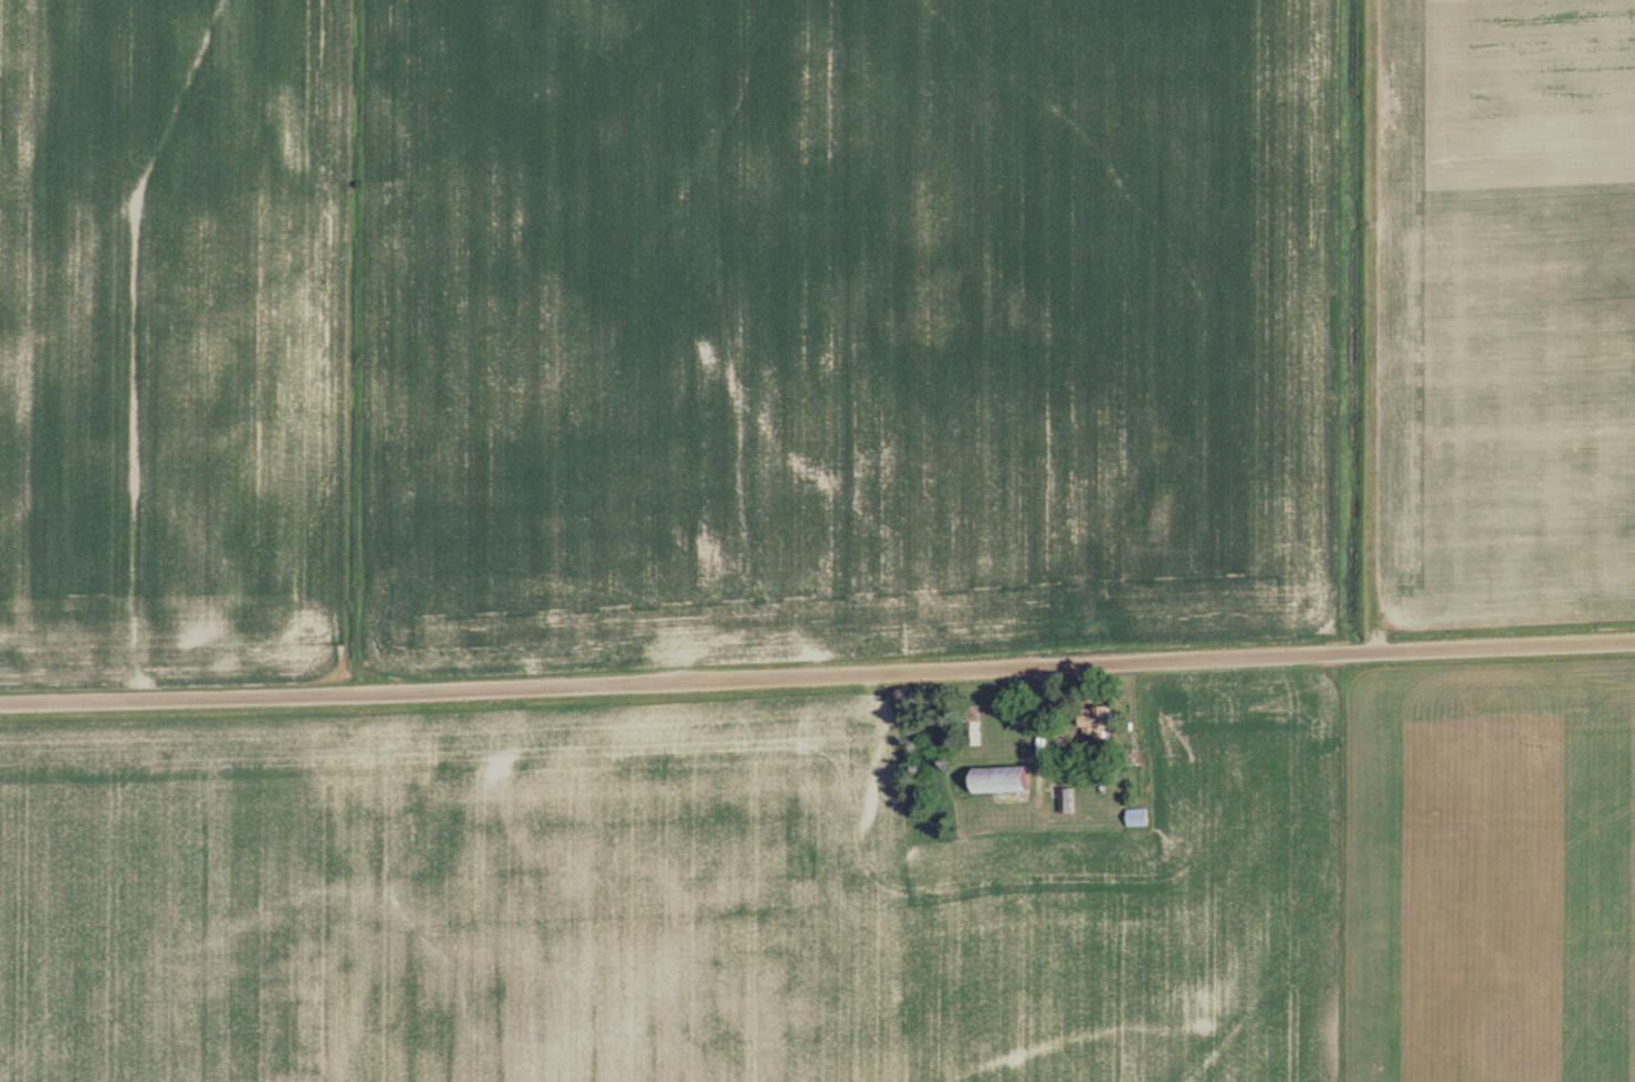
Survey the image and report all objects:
road: (817, 675)
building: (1087, 721)
building: (992, 779)
building: (1061, 800)
building: (1132, 818)

